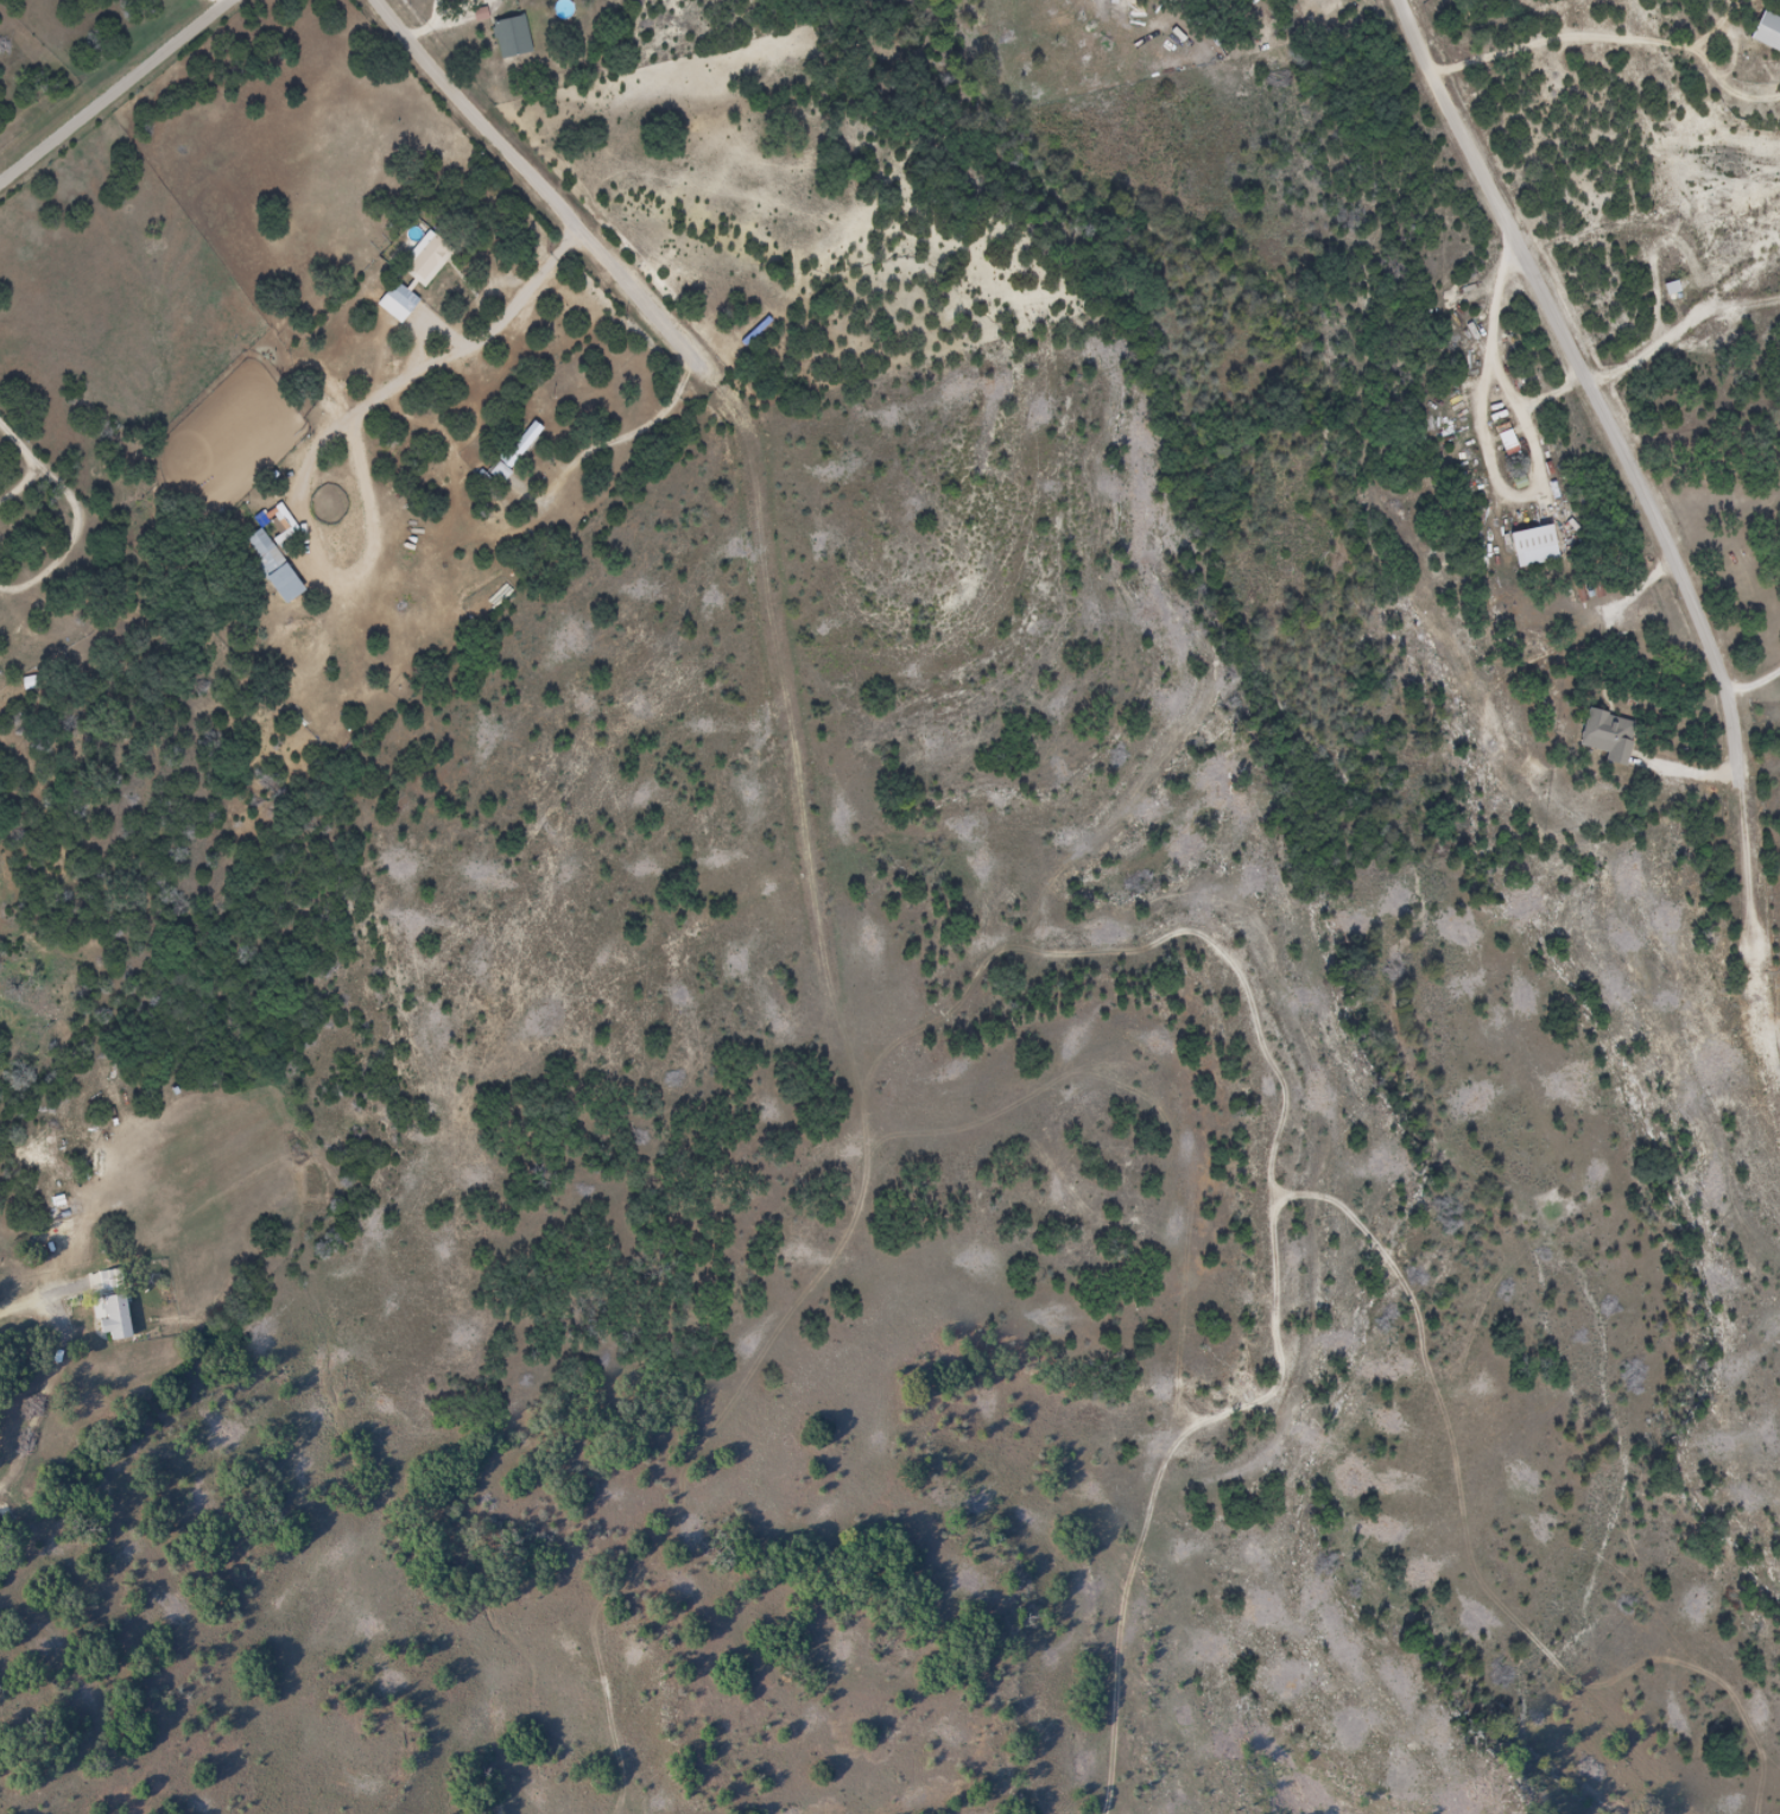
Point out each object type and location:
road: (217, 4)
building: (1766, 32)
building: (508, 37)
road: (116, 95)
building: (426, 261)
building: (399, 298)
road: (1577, 342)
road: (347, 394)
road: (741, 426)
building: (1505, 443)
building: (513, 452)
building: (1529, 546)
building: (270, 566)
road: (144, 609)
building: (1605, 736)
road: (378, 762)
road: (8, 1041)
building: (99, 1281)
building: (114, 1317)

